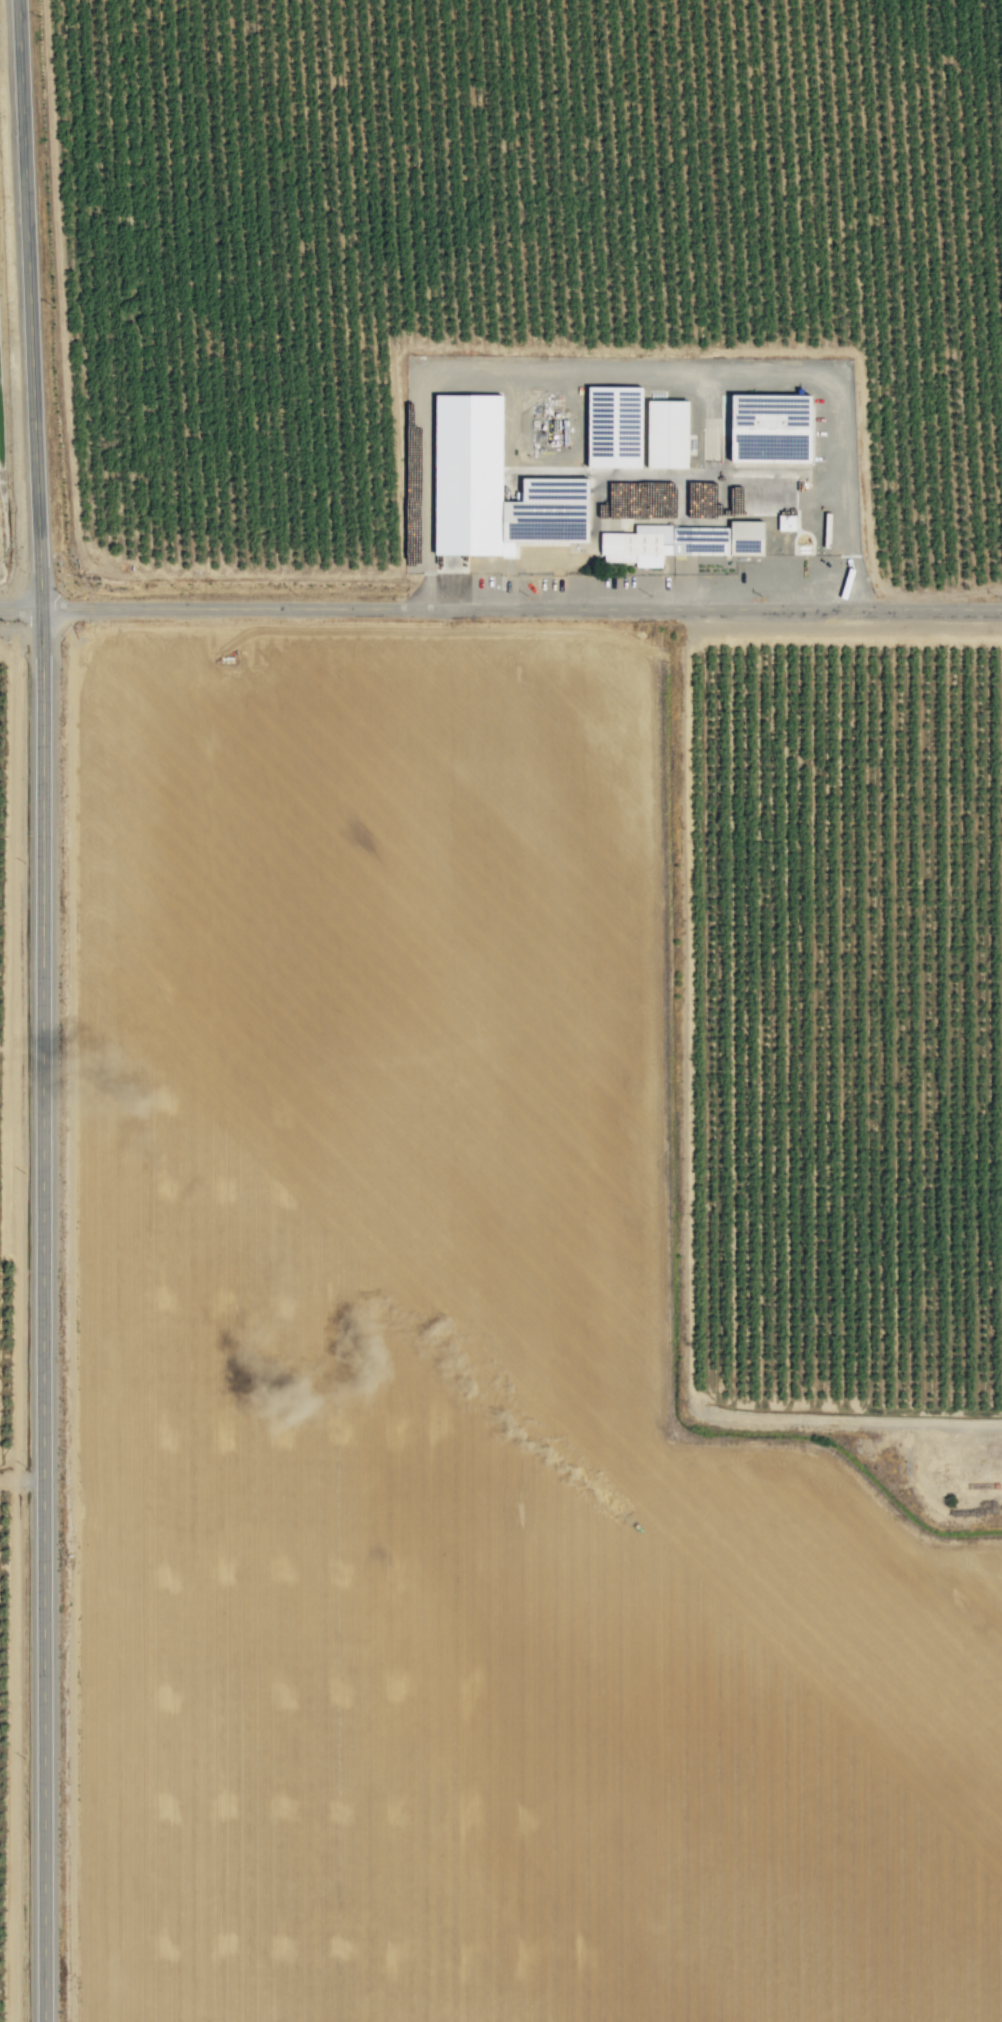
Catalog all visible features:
building: (764, 429)
building: (630, 430)
building: (488, 487)
building: (783, 523)
building: (677, 543)
road: (500, 607)
road: (41, 1010)

